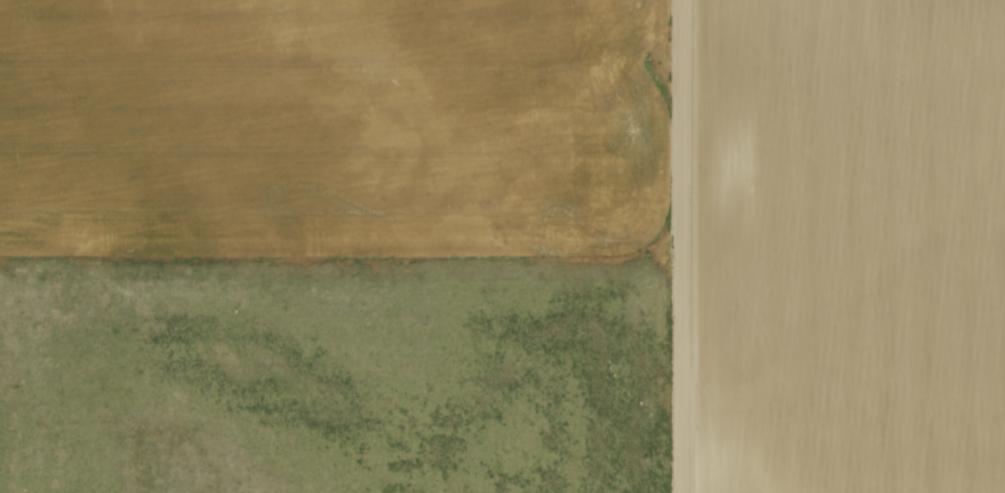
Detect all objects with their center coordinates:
crop: (332, 128)
road: (686, 246)
crop: (853, 246)

